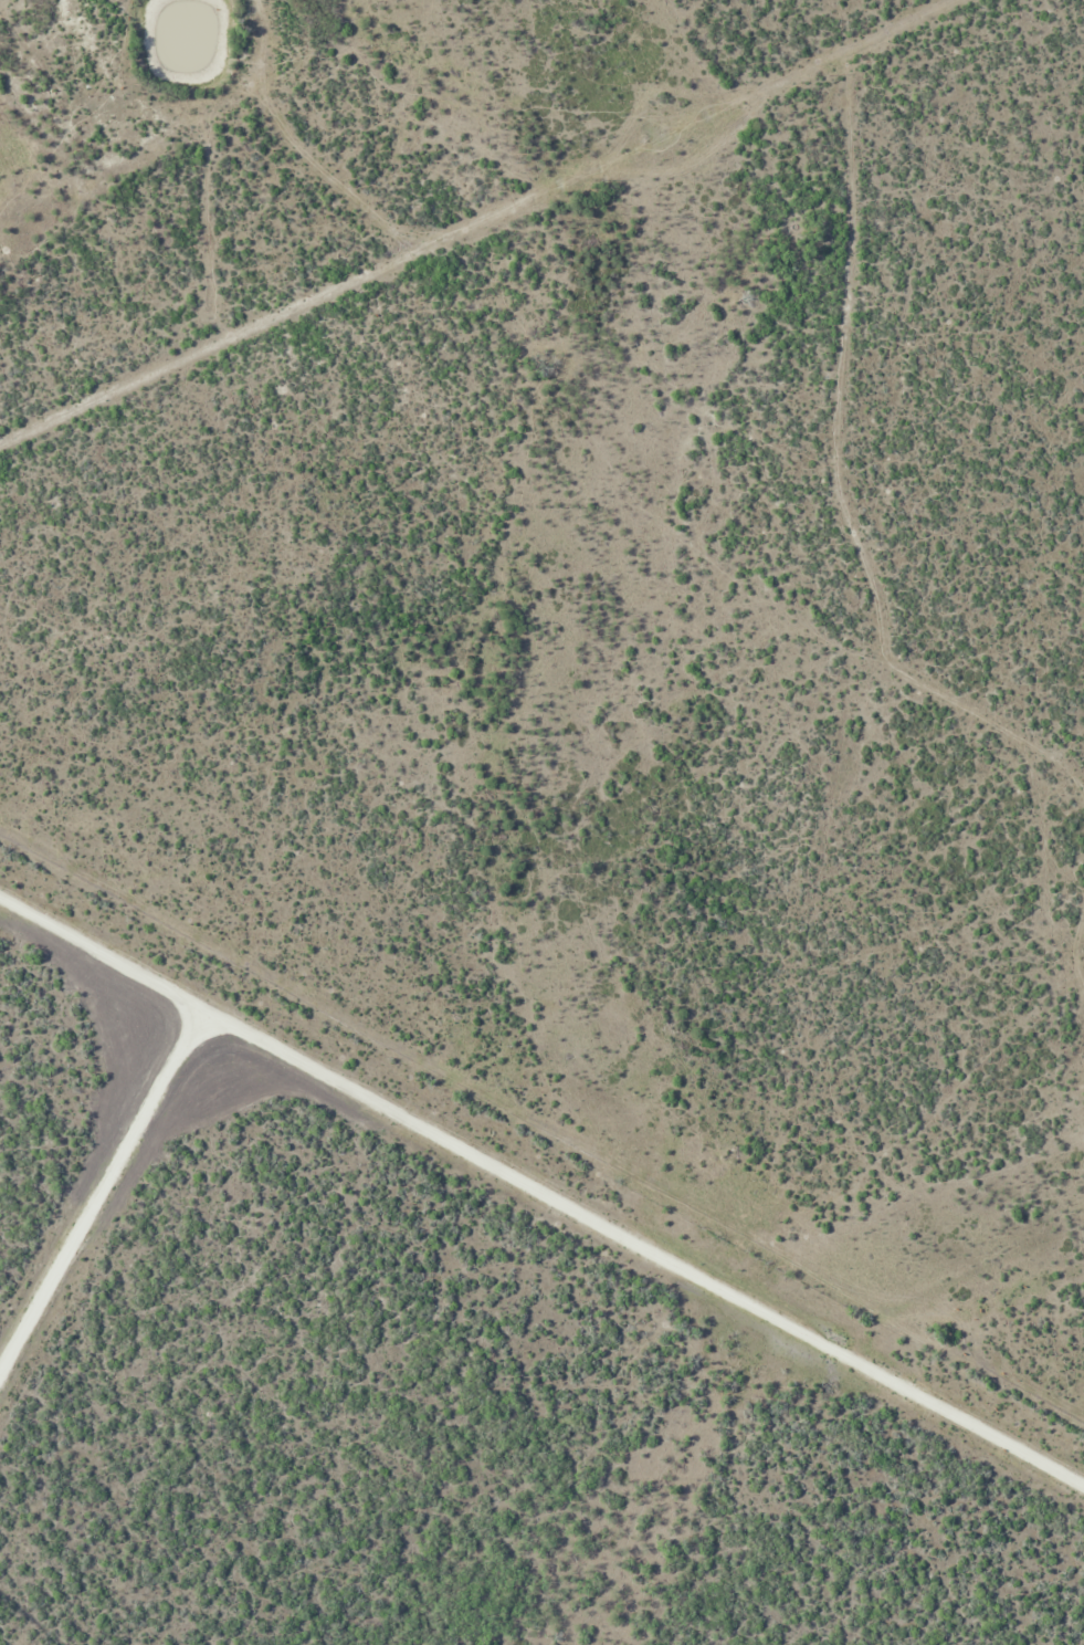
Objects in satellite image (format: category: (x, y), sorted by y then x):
road: (535, 1225)
road: (107, 1266)

